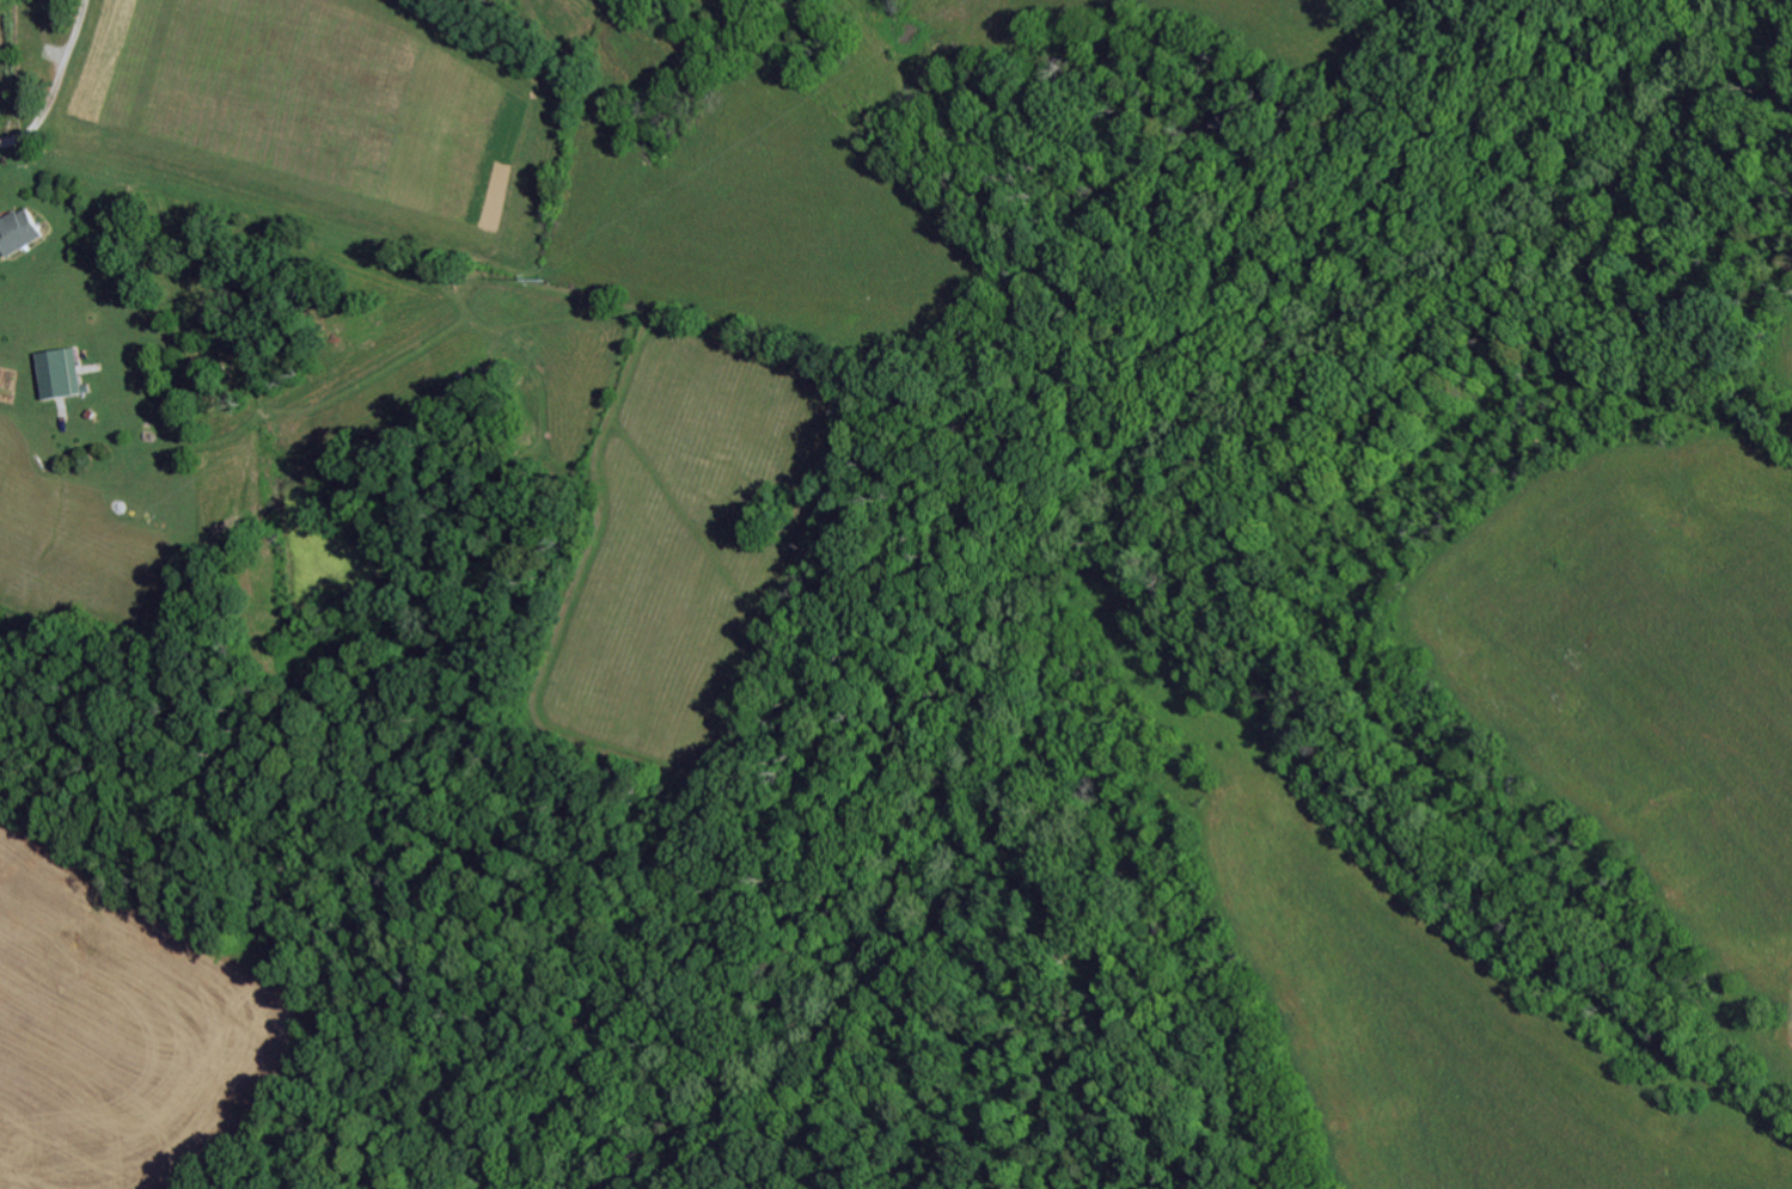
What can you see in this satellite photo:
road: (39, 116)
building: (16, 229)
building: (54, 370)

